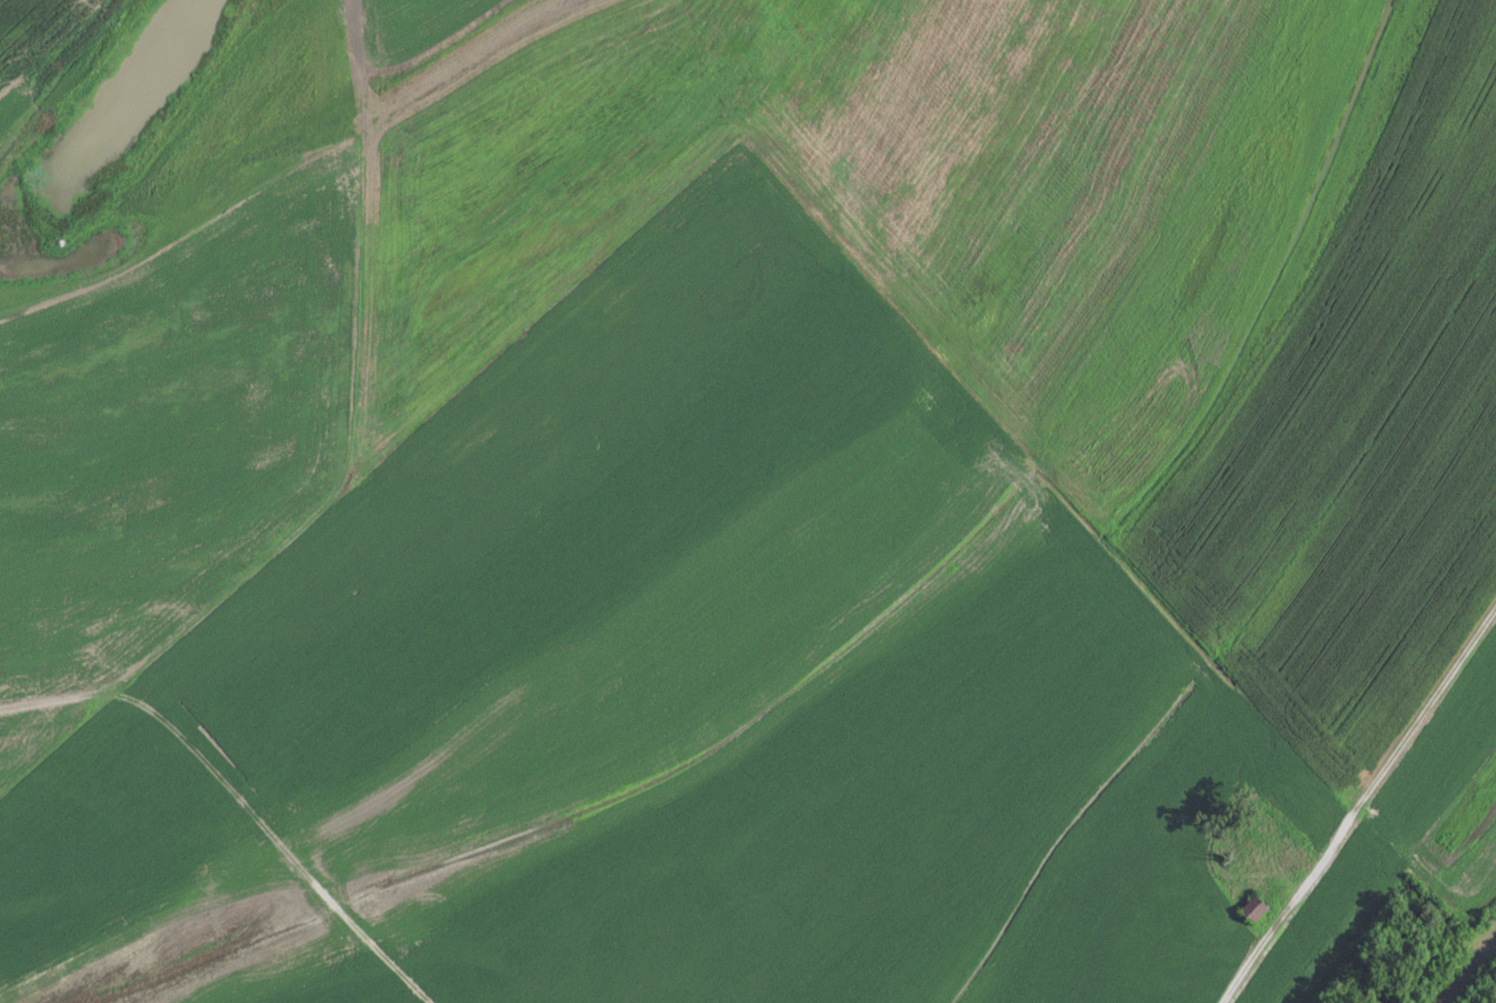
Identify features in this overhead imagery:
building: (1253, 906)

